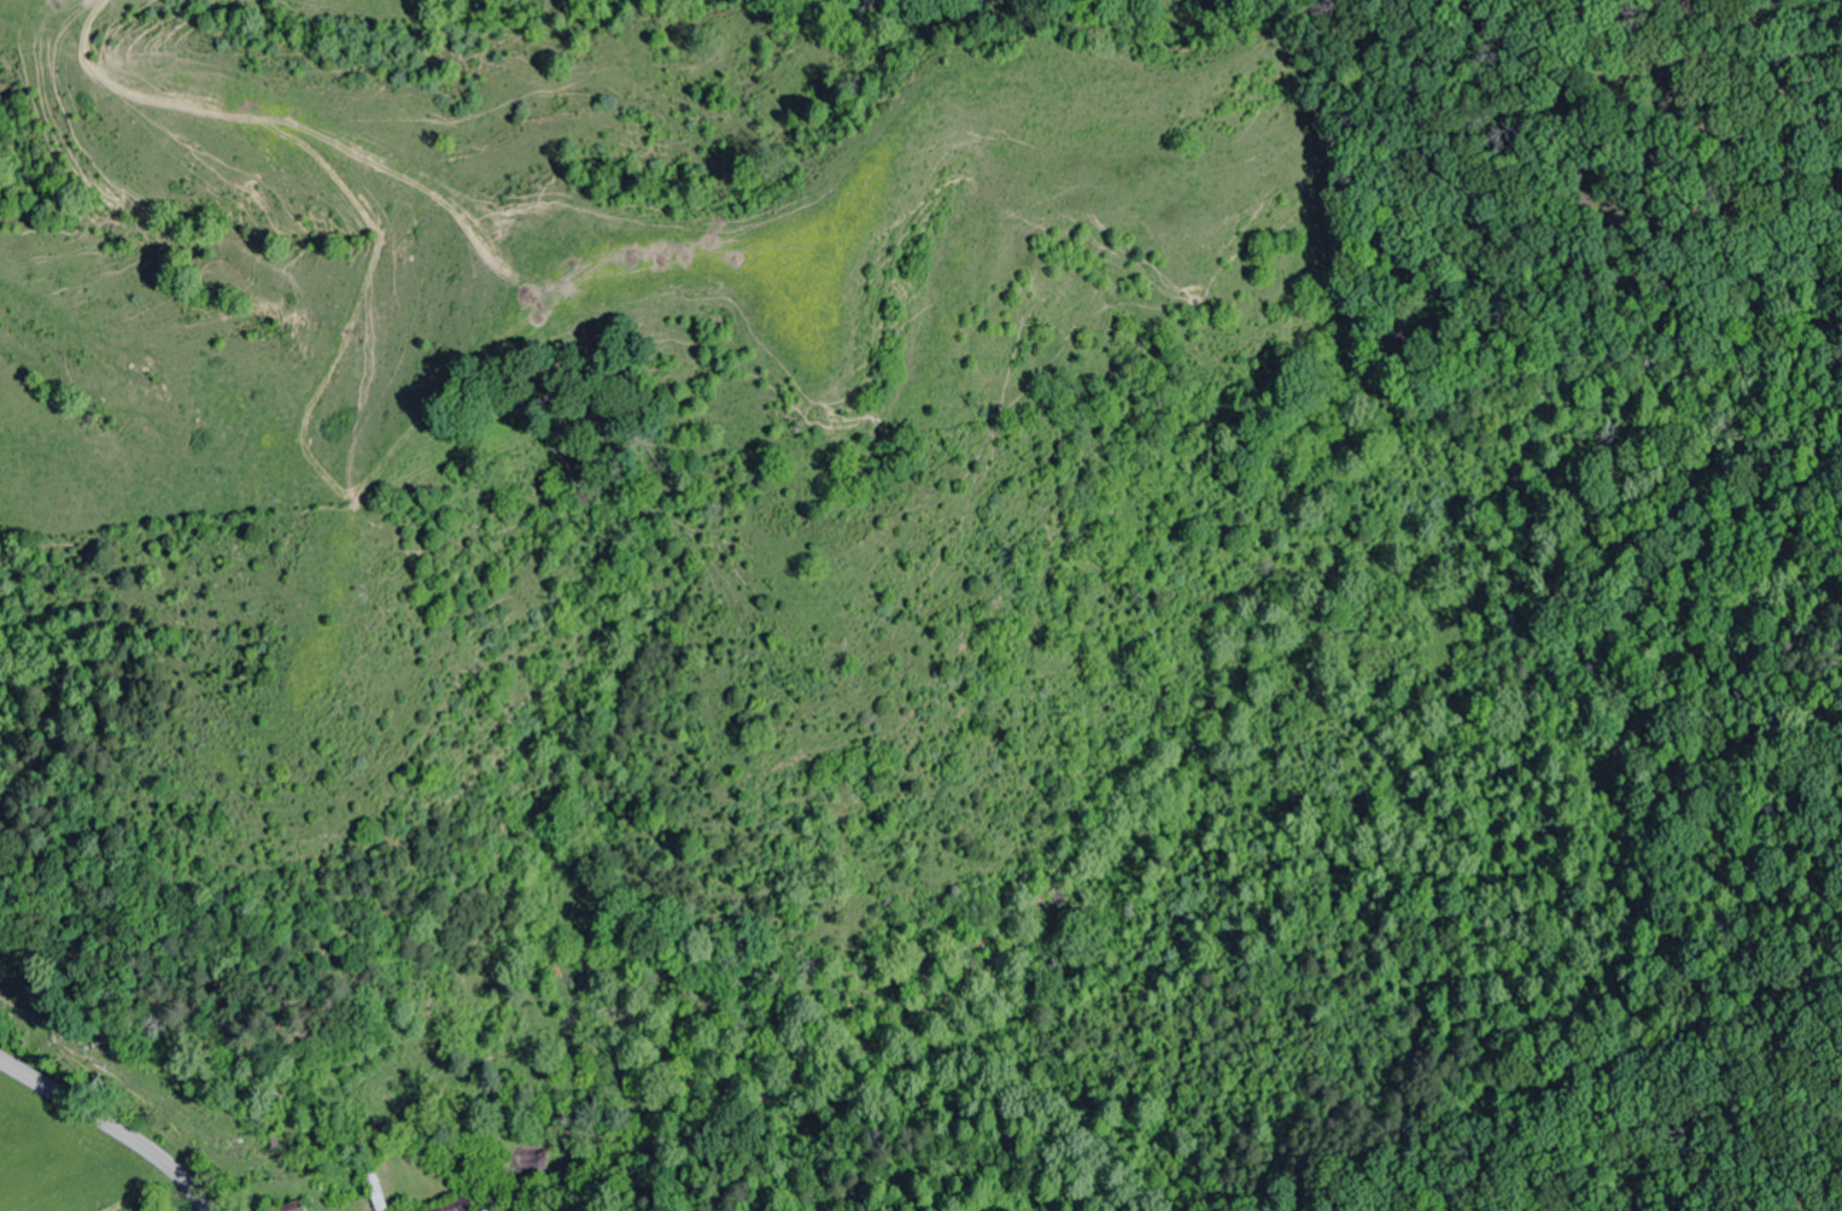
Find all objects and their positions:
road: (110, 1125)
building: (526, 1171)
building: (374, 1189)
building: (291, 1206)

